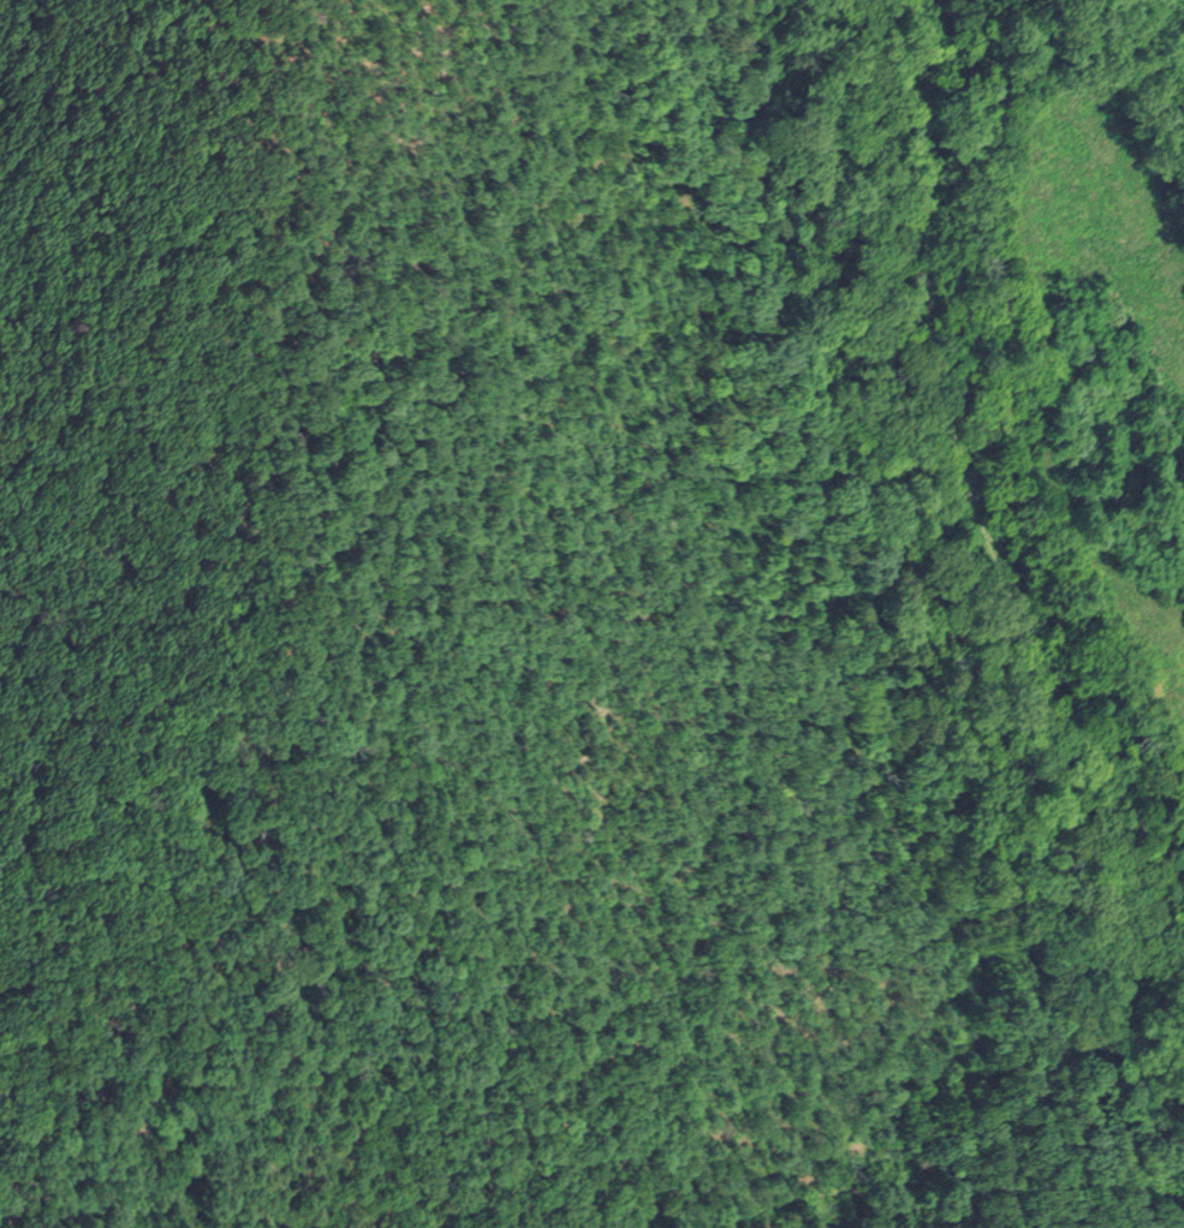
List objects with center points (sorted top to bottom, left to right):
road: (963, 467)

